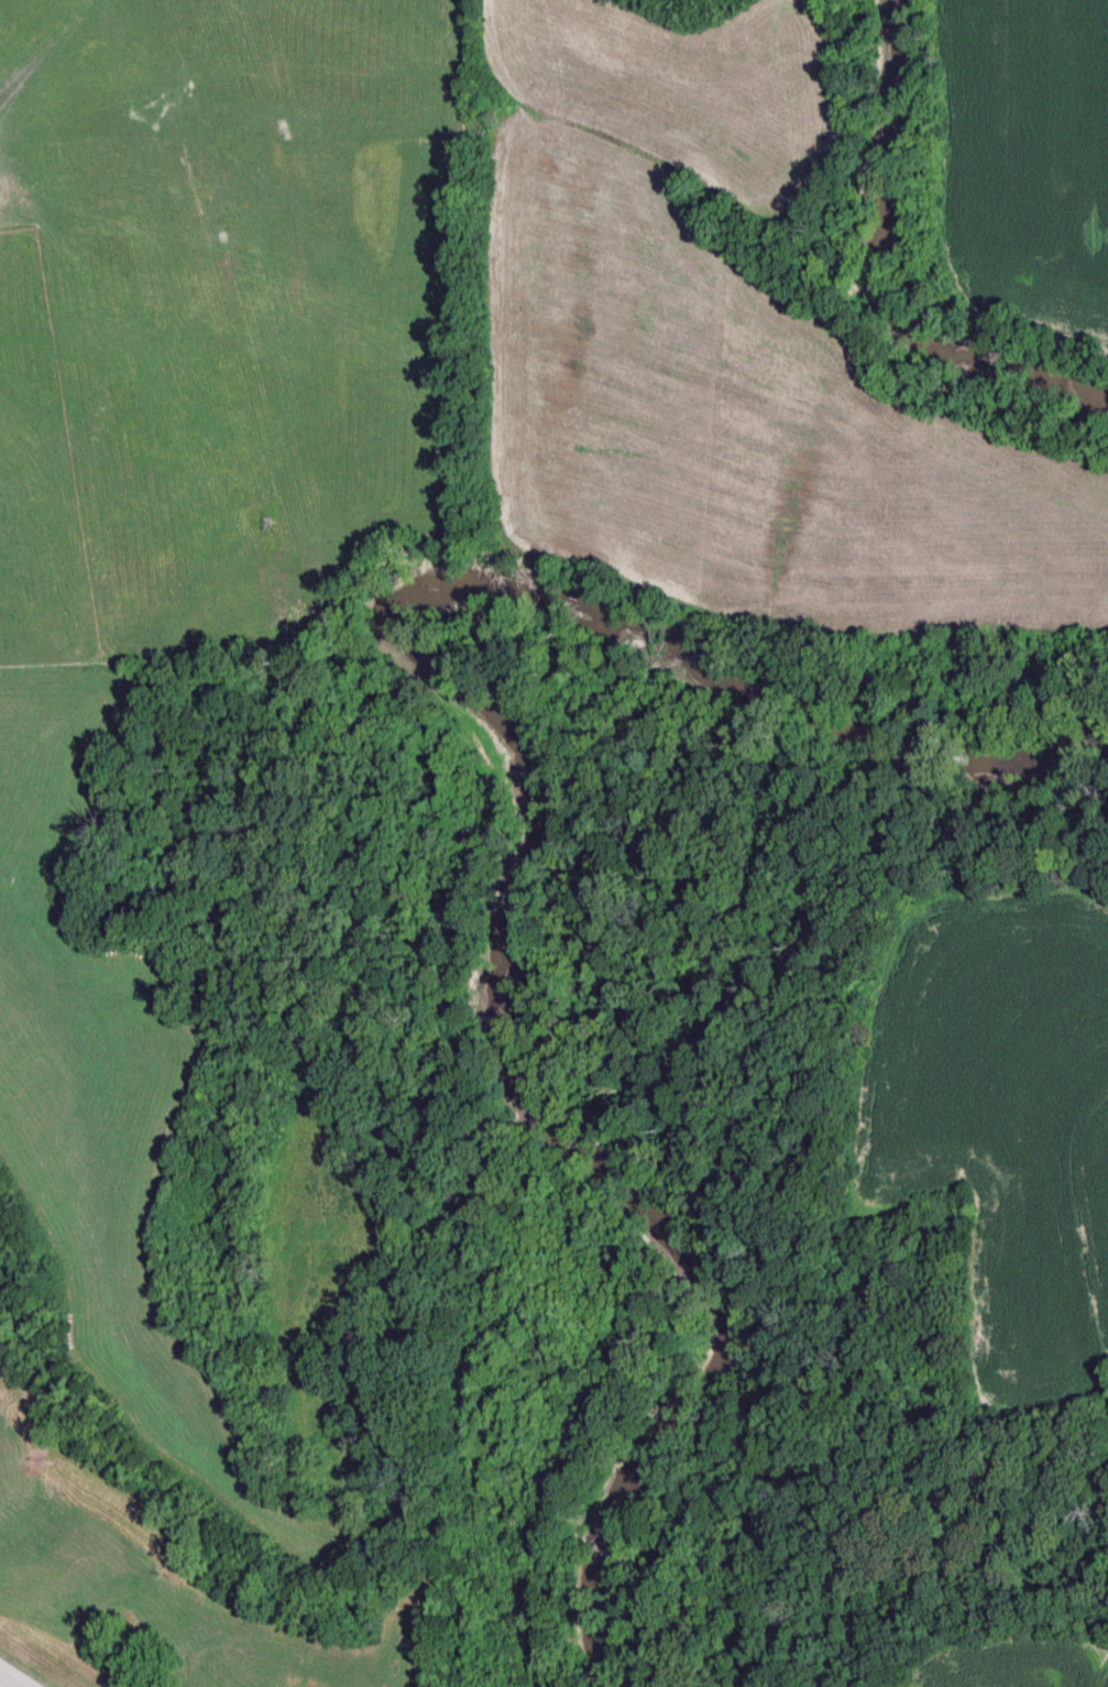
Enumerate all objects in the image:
river: (881, 259)
river: (545, 818)
road: (2, 1685)

